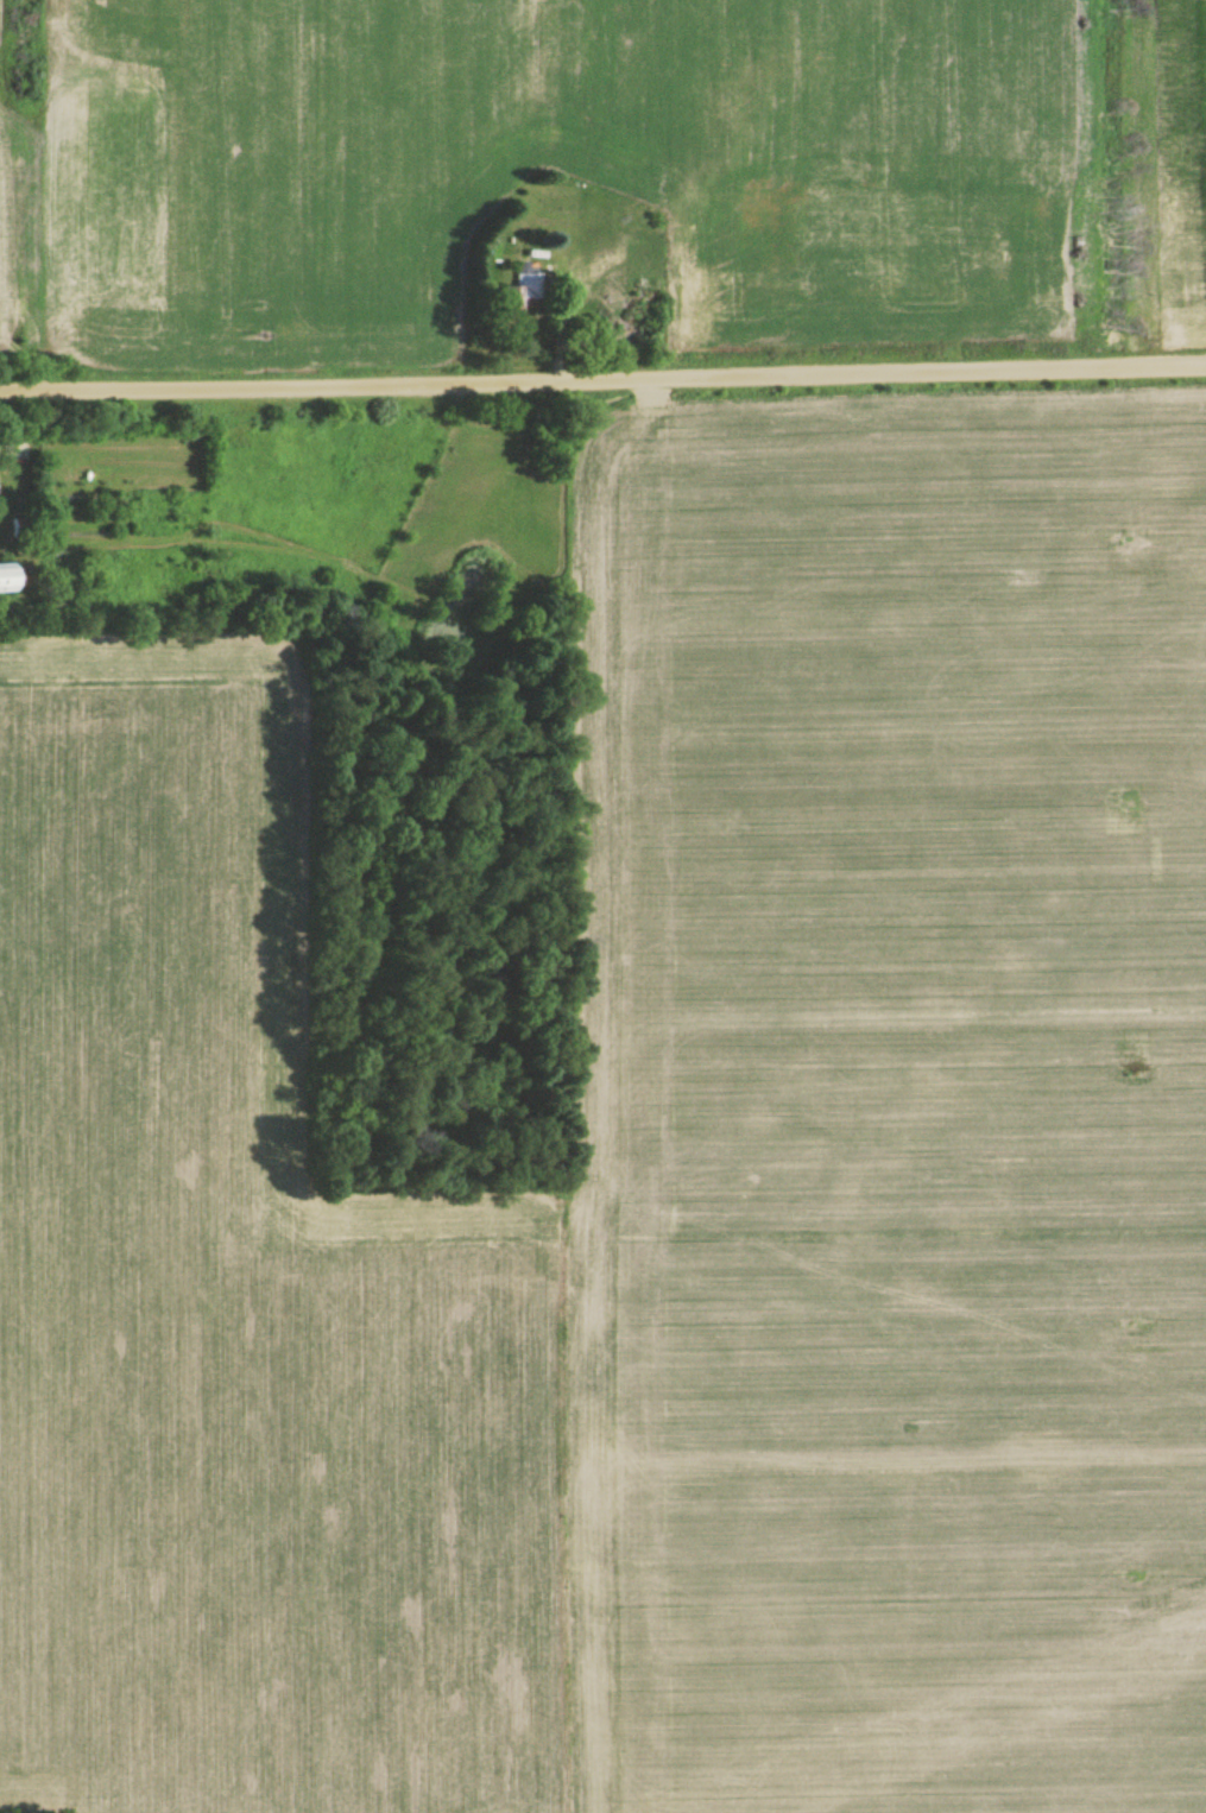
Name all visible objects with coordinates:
building: (638, 257)
building: (522, 290)
road: (602, 383)
building: (25, 530)
building: (5, 581)

